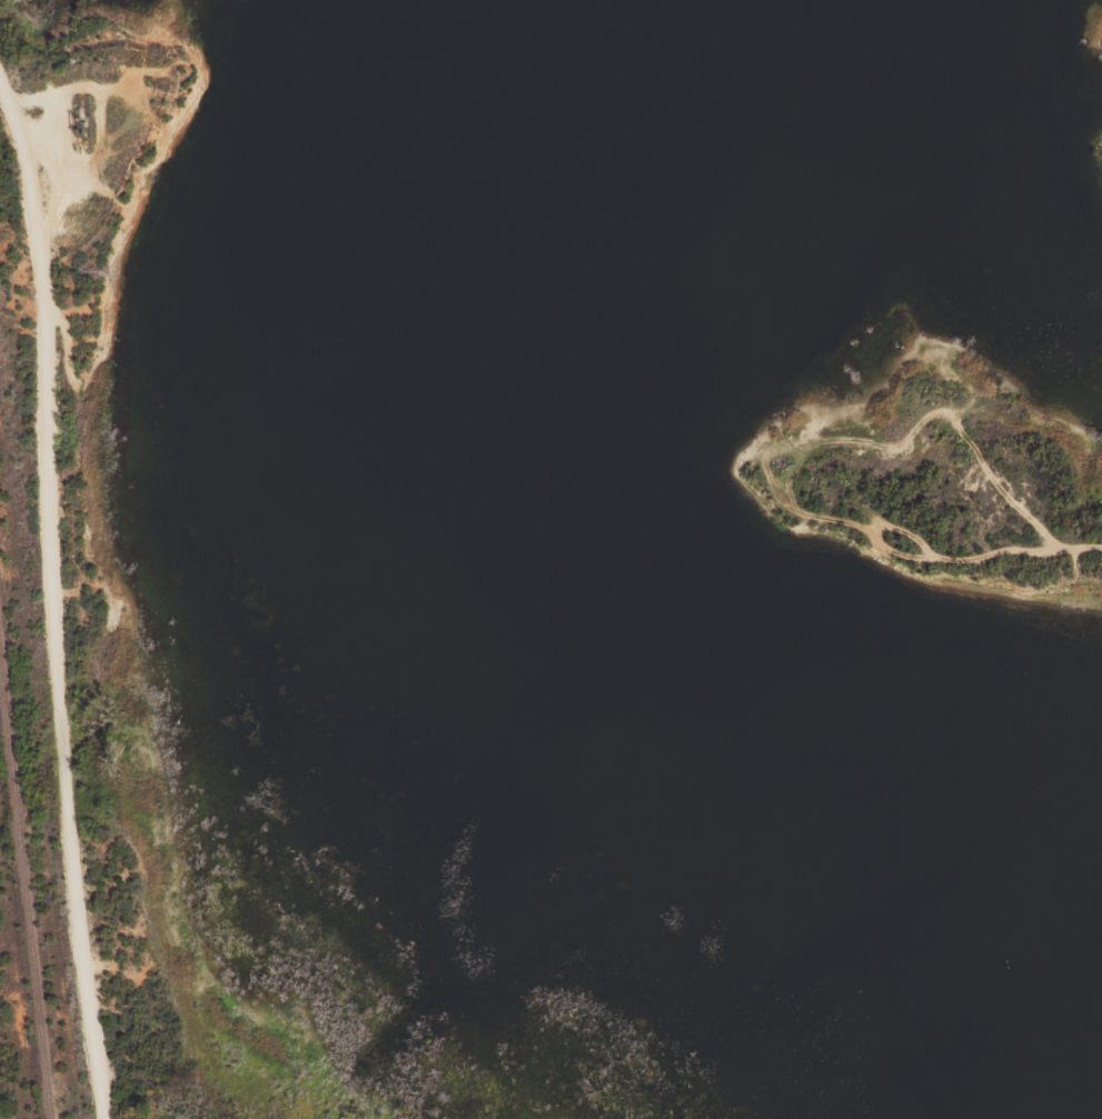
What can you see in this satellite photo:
road: (861, 490)
road: (59, 609)
railway: (23, 905)

